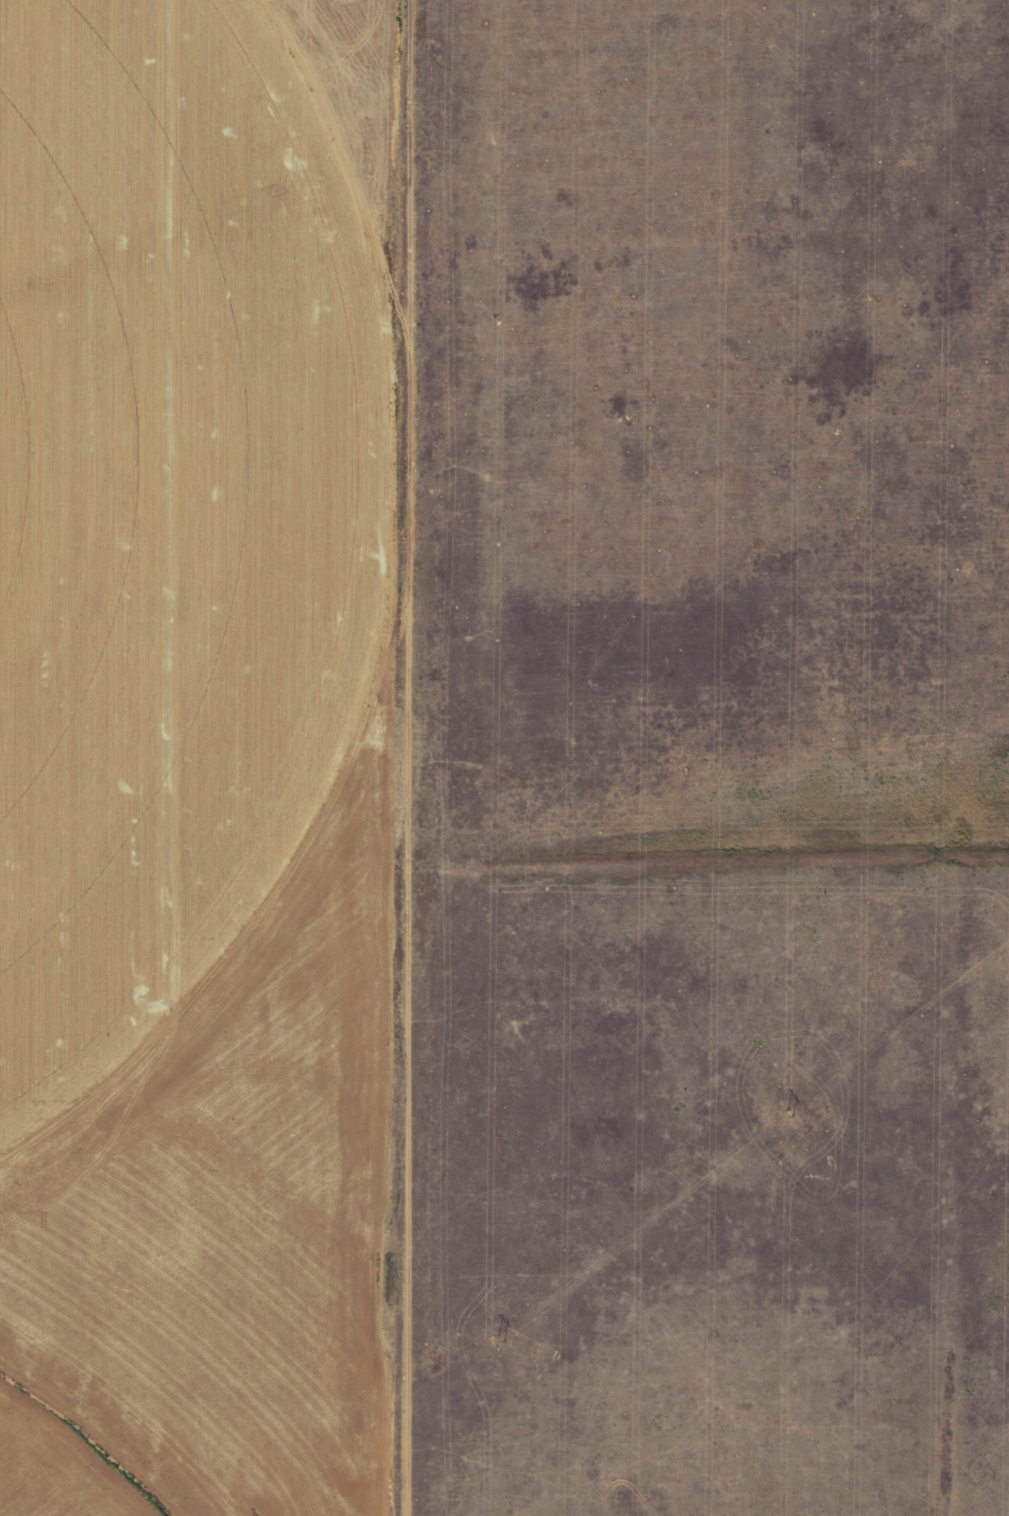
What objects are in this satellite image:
power tower: (788, 1111)
power tower: (498, 1339)

